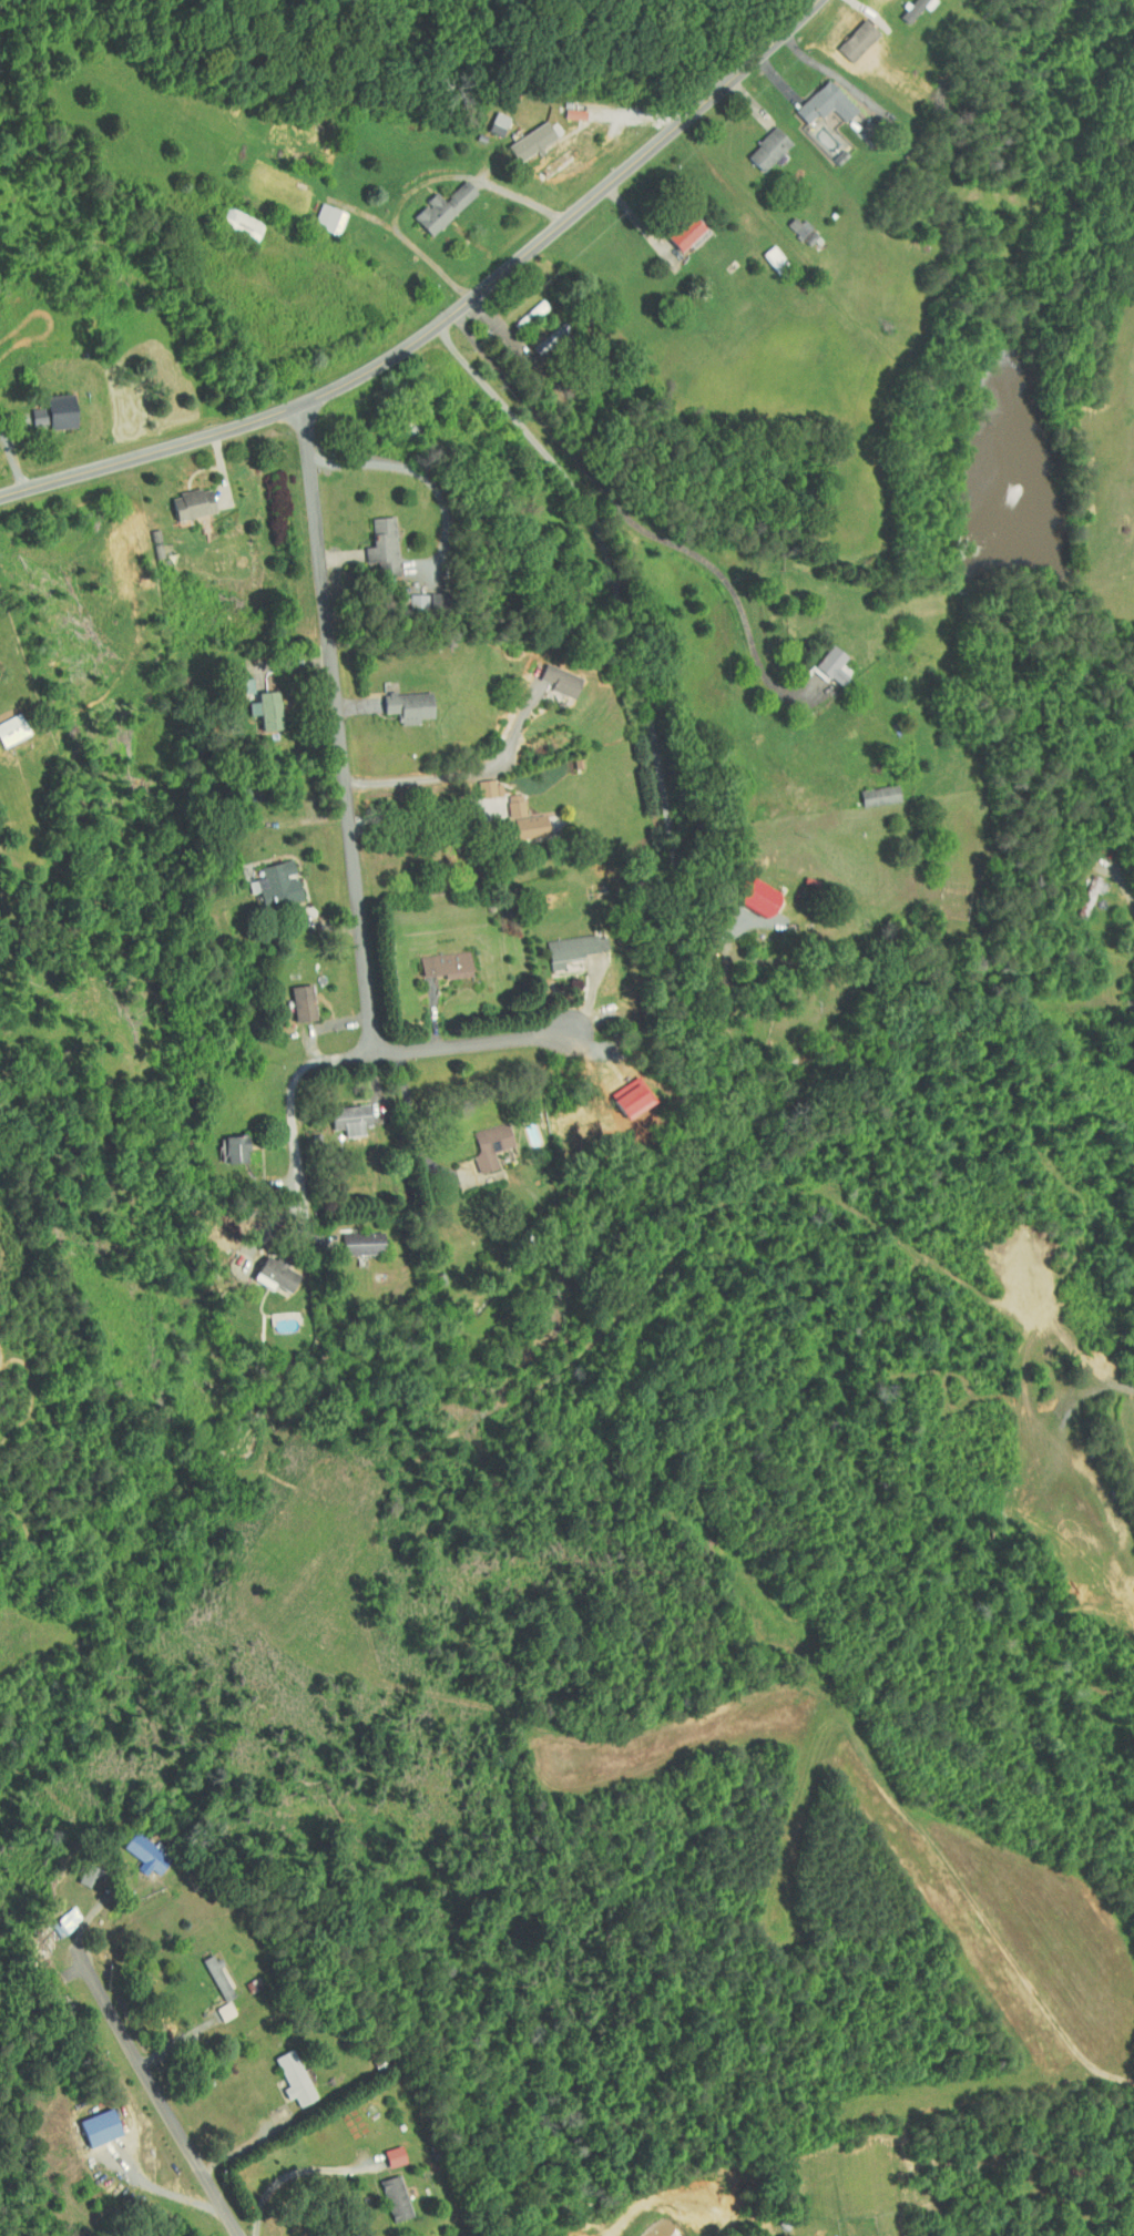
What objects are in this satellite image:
building: (899, 7)
road: (825, 68)
building: (813, 98)
building: (487, 118)
building: (520, 136)
building: (756, 143)
road: (420, 184)
building: (431, 202)
building: (317, 213)
building: (231, 217)
building: (673, 226)
building: (762, 251)
road: (447, 315)
building: (43, 407)
road: (423, 474)
building: (178, 499)
road: (634, 523)
building: (371, 541)
building: (421, 594)
building: (406, 595)
road: (627, 630)
building: (820, 658)
building: (548, 675)
building: (397, 701)
building: (254, 704)
building: (7, 723)
road: (336, 726)
road: (464, 777)
building: (478, 783)
building: (868, 789)
building: (503, 800)
road: (421, 816)
building: (518, 821)
building: (265, 878)
building: (744, 890)
road: (1127, 895)
building: (562, 942)
building: (435, 958)
building: (290, 996)
road: (345, 1059)
building: (620, 1091)
building: (338, 1112)
road: (413, 1133)
building: (479, 1139)
building: (224, 1142)
building: (350, 1236)
building: (262, 1267)
building: (134, 1849)
building: (76, 1868)
building: (54, 1915)
building: (206, 1971)
building: (214, 2005)
building: (283, 2072)
road: (150, 2089)
building: (86, 2122)
road: (245, 2147)
building: (382, 2150)
road: (276, 2168)
road: (159, 2192)
building: (384, 2193)

